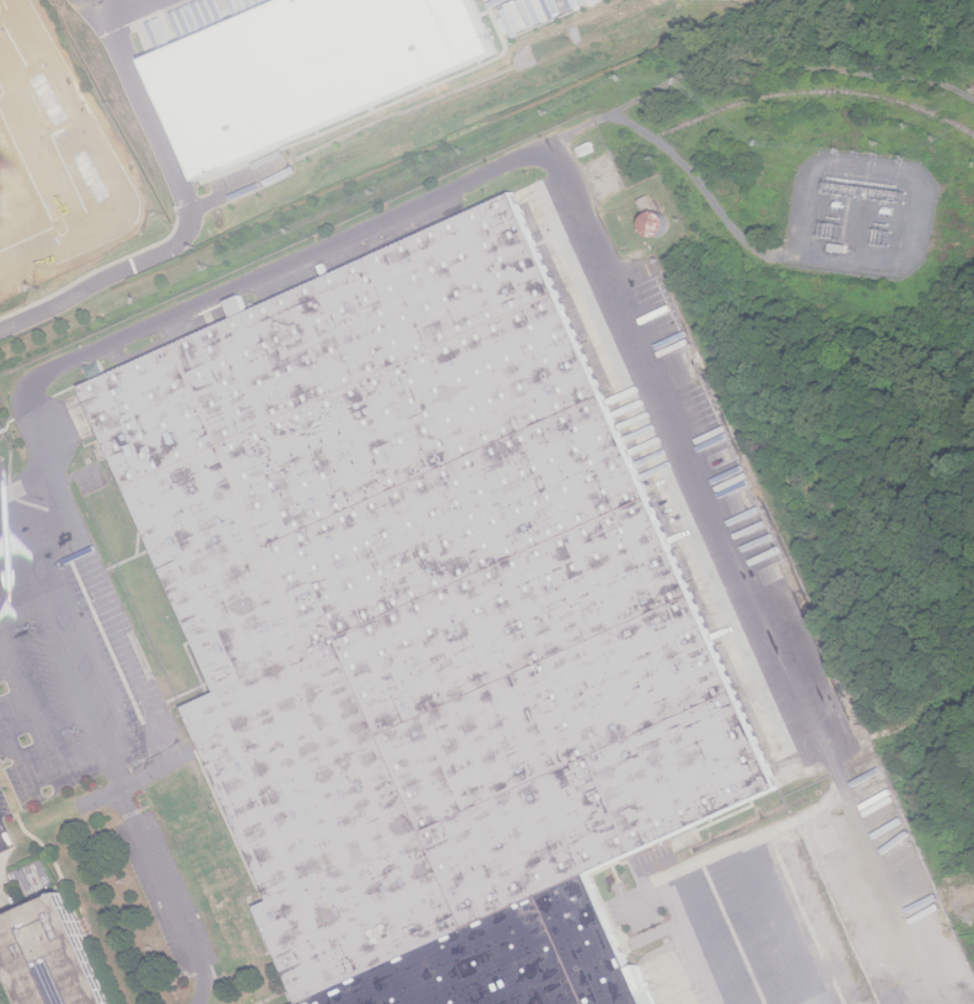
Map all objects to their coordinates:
road: (100, 6)
road: (785, 59)
building: (313, 67)
railway: (818, 92)
road: (156, 131)
building: (1, 153)
road: (87, 160)
road: (236, 189)
road: (714, 206)
power substation: (863, 214)
road: (278, 270)
road: (83, 290)
road: (748, 572)
building: (427, 624)
road: (66, 634)
railway: (873, 739)
road: (134, 782)
road: (5, 833)
road: (2, 846)
road: (691, 860)
road: (651, 894)
road: (169, 895)
road: (780, 921)
railway: (969, 941)
railway: (970, 949)
building: (54, 955)

